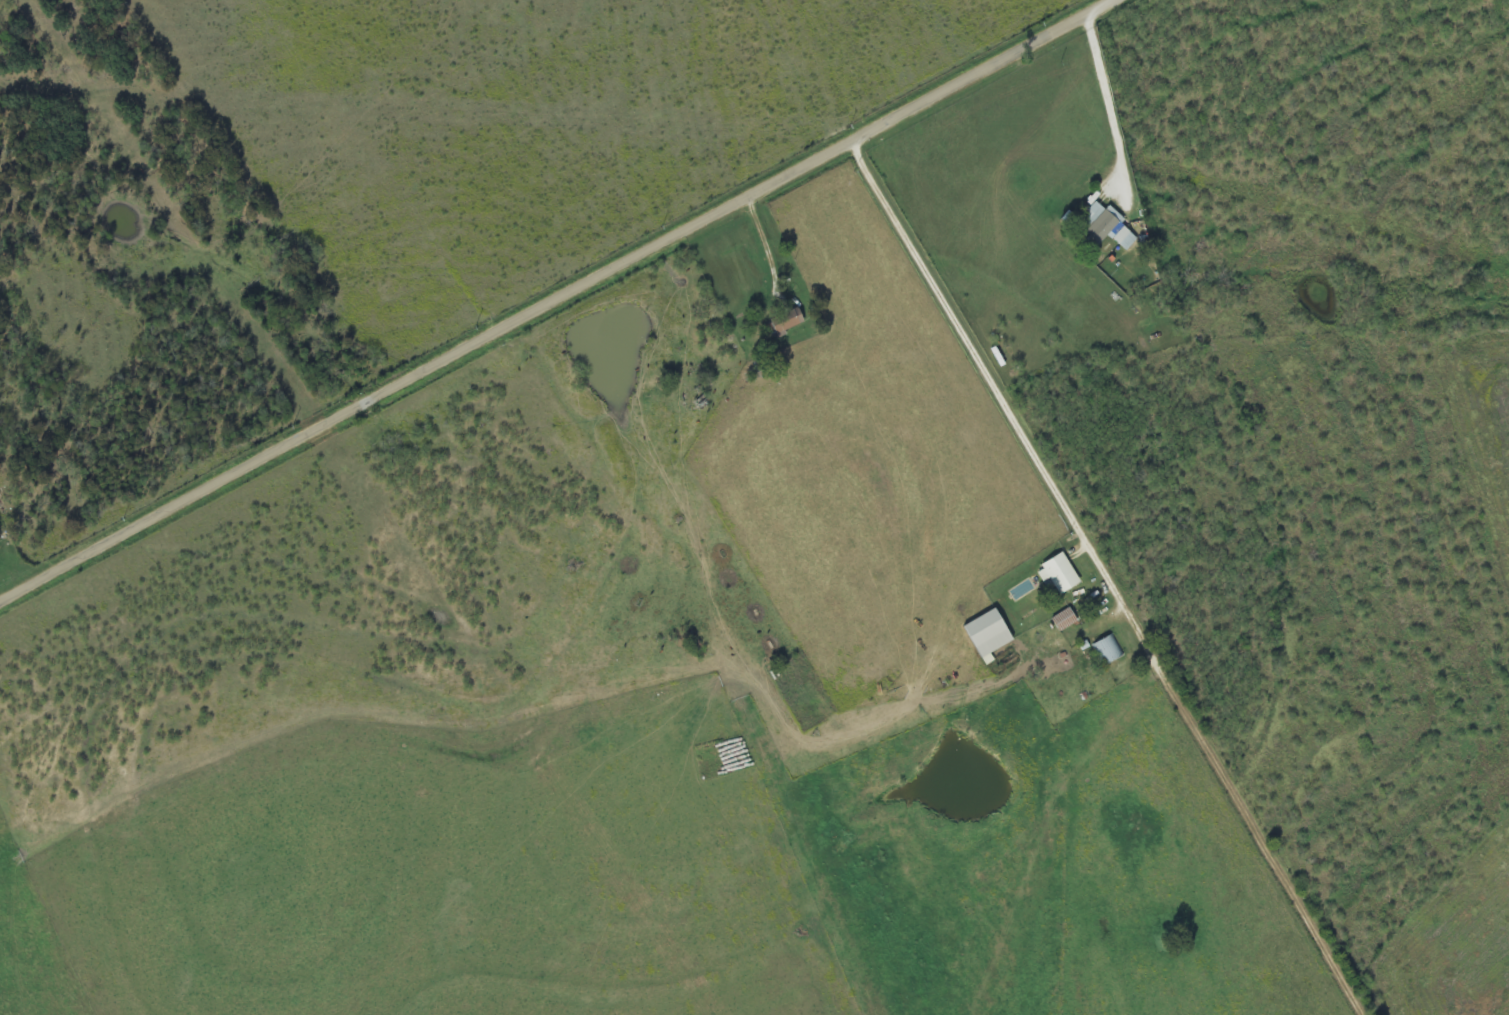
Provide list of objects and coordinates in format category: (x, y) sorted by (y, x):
building: (1107, 227)
road: (559, 301)
building: (785, 324)
building: (1059, 574)
building: (1065, 620)
building: (988, 635)
building: (1108, 650)

